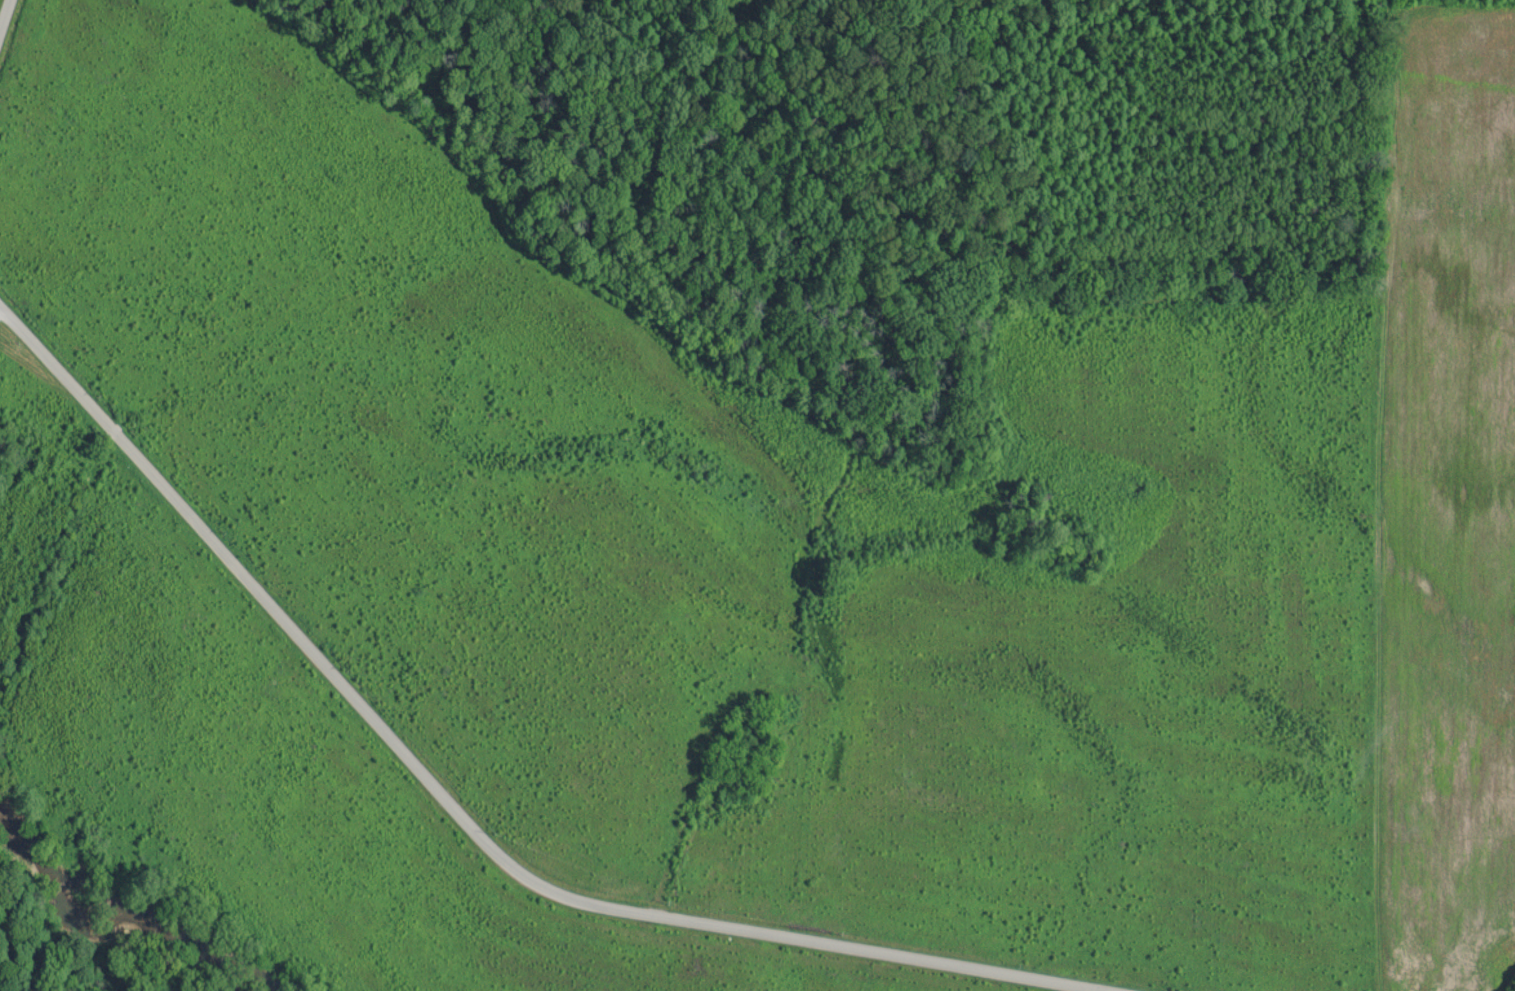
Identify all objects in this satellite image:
road: (4, 14)
road: (1378, 643)
road: (461, 816)
river: (136, 915)

